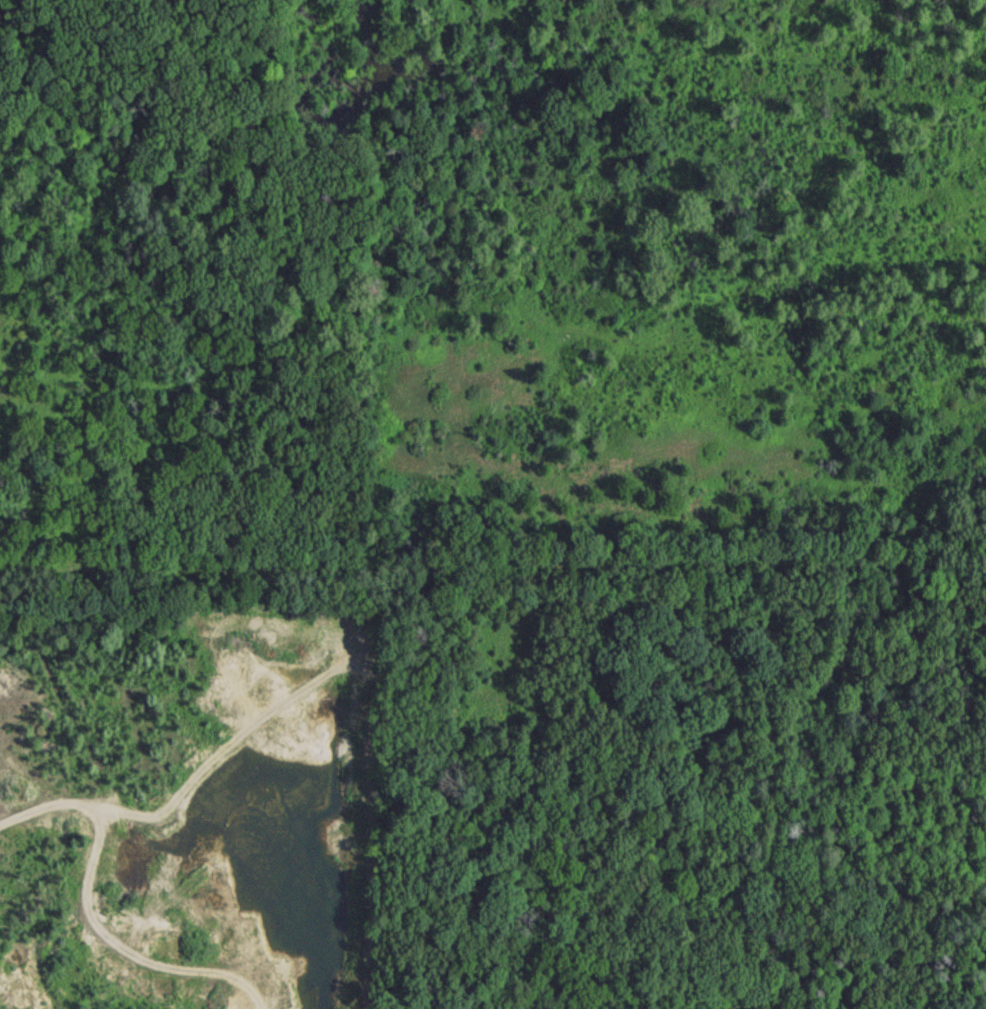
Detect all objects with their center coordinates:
road: (493, 573)

